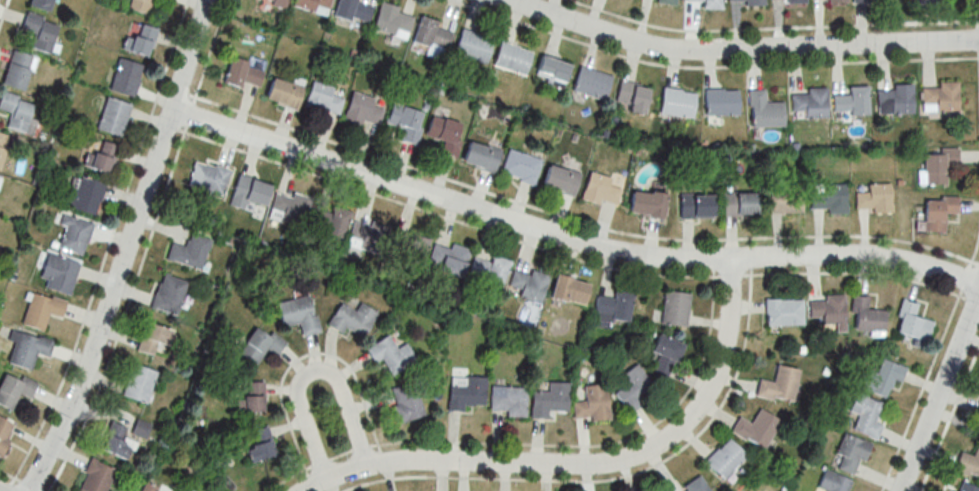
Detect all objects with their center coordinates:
building: (829, 0)
building: (862, 0)
building: (278, 2)
building: (667, 2)
building: (746, 2)
building: (928, 3)
building: (42, 4)
building: (711, 4)
building: (144, 5)
building: (314, 5)
building: (353, 10)
building: (393, 21)
building: (41, 31)
building: (432, 35)
building: (141, 40)
building: (473, 48)
road: (740, 48)
building: (512, 58)
building: (552, 69)
building: (18, 70)
building: (245, 73)
building: (126, 77)
building: (592, 83)
building: (285, 93)
building: (632, 96)
building: (941, 98)
building: (323, 100)
building: (895, 100)
building: (676, 102)
building: (721, 102)
building: (852, 102)
building: (810, 103)
building: (364, 110)
building: (764, 110)
building: (18, 113)
building: (113, 116)
building: (406, 122)
building: (446, 134)
building: (3, 146)
building: (481, 157)
building: (100, 158)
building: (940, 166)
building: (520, 167)
building: (208, 178)
building: (560, 180)
building: (600, 190)
building: (250, 192)
building: (84, 195)
building: (830, 198)
building: (876, 199)
building: (786, 200)
building: (647, 204)
building: (740, 204)
building: (696, 206)
building: (291, 209)
building: (939, 213)
building: (330, 222)
building: (74, 235)
building: (369, 236)
road: (569, 237)
road: (127, 248)
building: (412, 248)
building: (189, 252)
building: (449, 259)
building: (490, 270)
building: (59, 273)
building: (529, 284)
building: (569, 290)
building: (169, 294)
building: (614, 306)
building: (675, 308)
building: (42, 310)
building: (784, 312)
building: (829, 313)
building: (299, 314)
building: (868, 316)
building: (354, 319)
building: (914, 322)
building: (154, 338)
building: (261, 345)
building: (29, 349)
building: (391, 354)
building: (666, 354)
road: (311, 365)
building: (883, 379)
building: (140, 383)
building: (779, 384)
building: (633, 388)
building: (15, 389)
building: (467, 392)
road: (940, 393)
building: (255, 397)
building: (550, 399)
building: (508, 400)
building: (405, 402)
building: (592, 403)
building: (978, 413)
building: (867, 415)
road: (956, 417)
park: (960, 419)
building: (141, 428)
building: (756, 428)
building: (5, 432)
building: (118, 441)
building: (259, 444)
building: (852, 452)
building: (725, 458)
road: (583, 461)
building: (968, 463)
building: (97, 477)
building: (834, 482)
building: (696, 485)
building: (968, 487)
road: (5, 488)
building: (149, 488)

